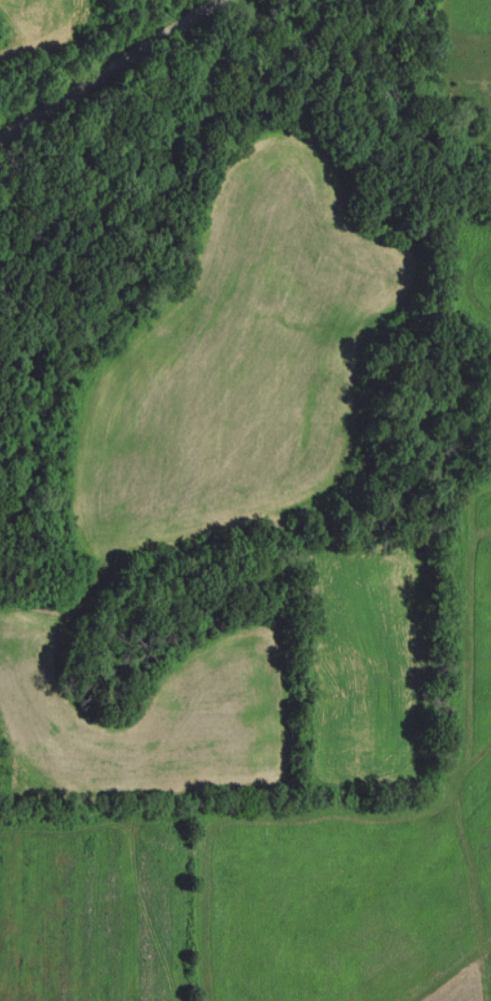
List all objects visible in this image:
road: (114, 74)

